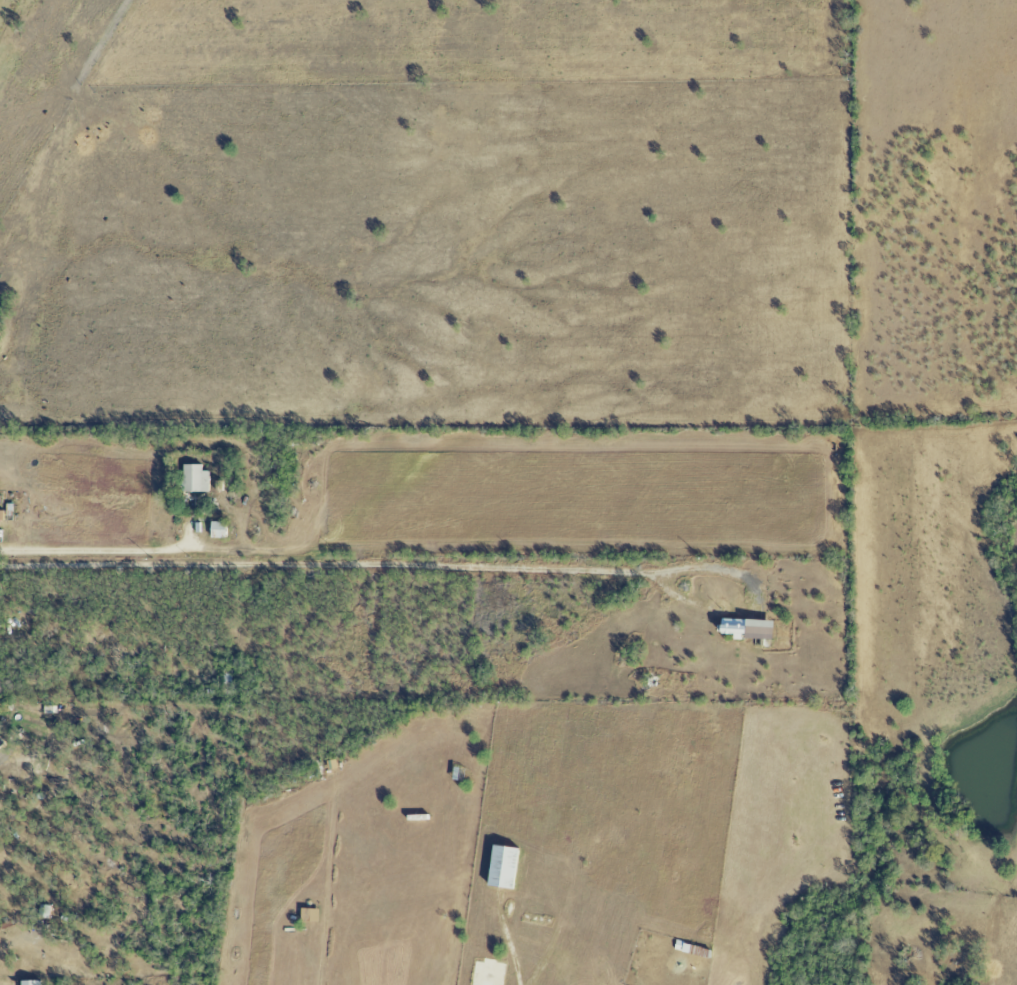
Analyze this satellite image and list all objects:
building: (193, 478)
building: (218, 528)
road: (95, 549)
road: (356, 564)
building: (745, 628)
building: (1, 743)
building: (501, 867)
building: (307, 915)
road: (16, 943)
building: (30, 982)

